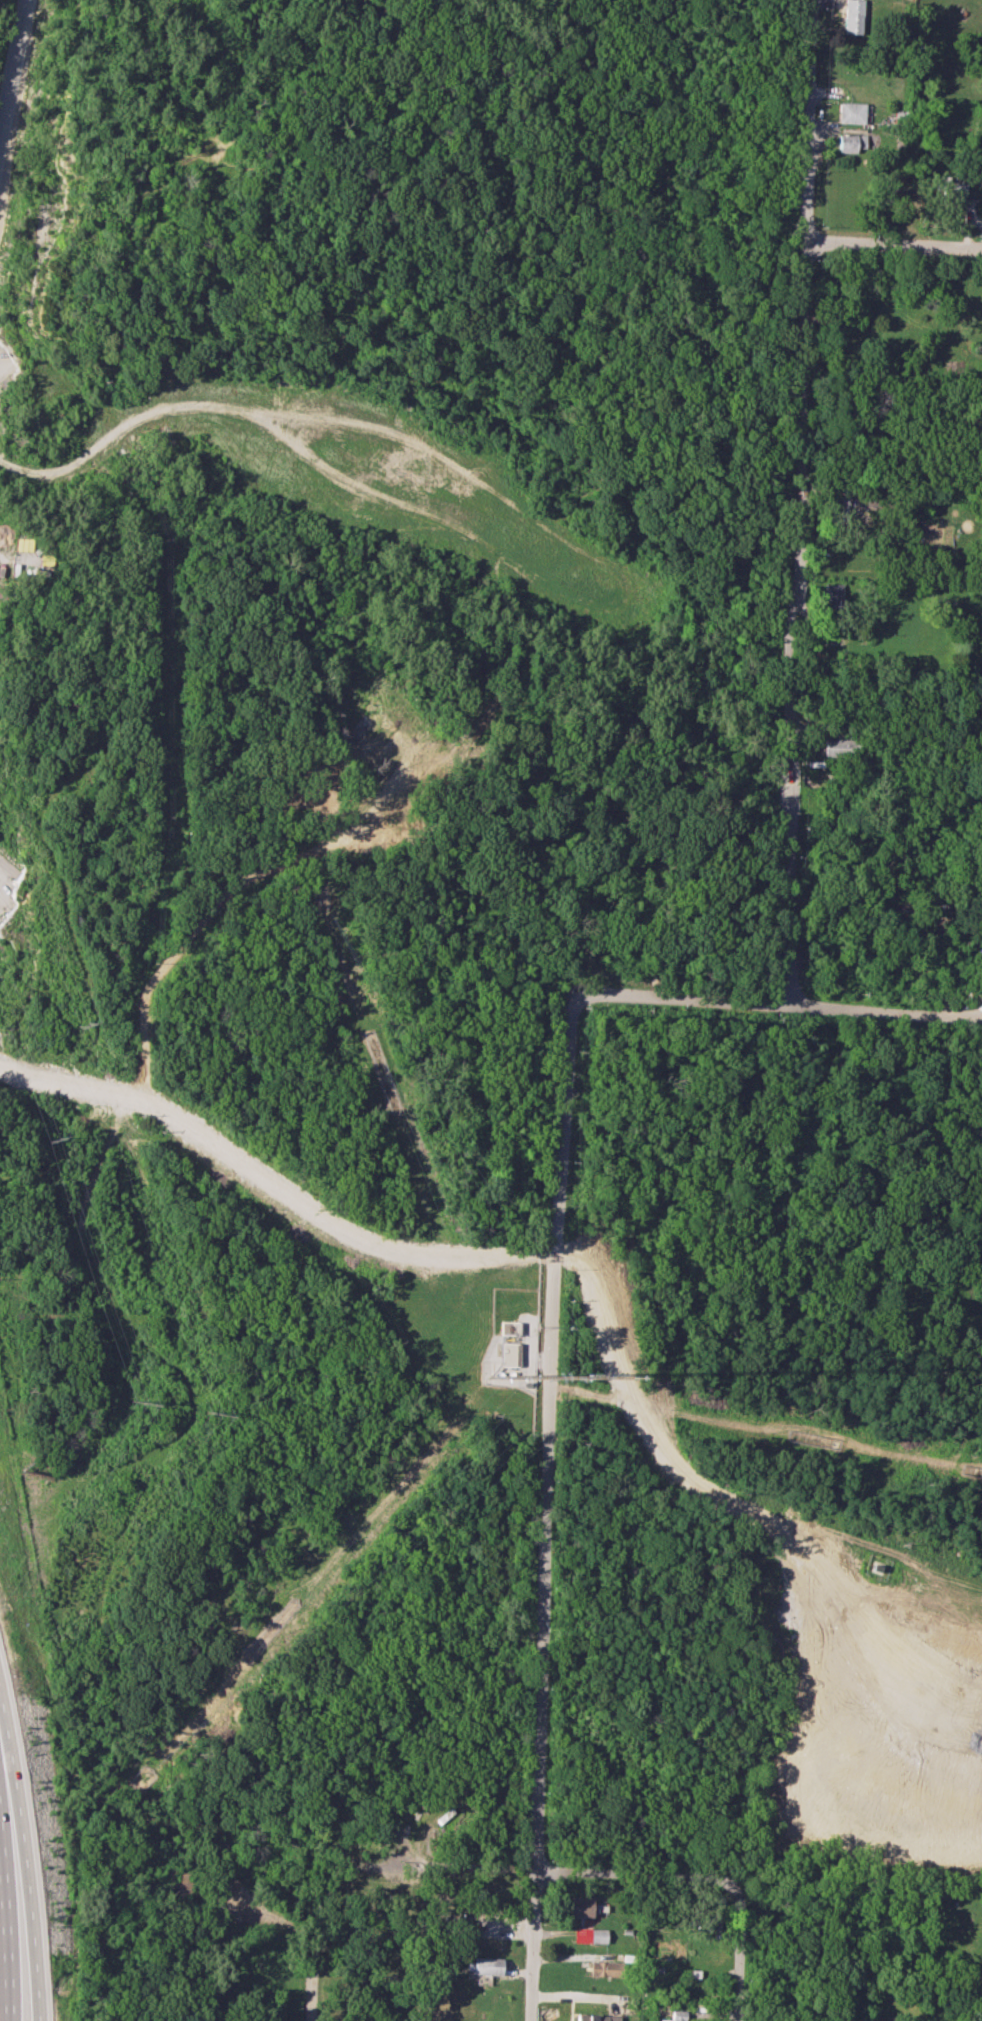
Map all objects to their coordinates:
building: (852, 16)
road: (15, 80)
building: (850, 113)
building: (850, 142)
building: (951, 190)
building: (901, 201)
road: (893, 242)
road: (144, 415)
building: (872, 498)
road: (795, 500)
building: (836, 508)
building: (831, 595)
building: (839, 748)
road: (2, 893)
road: (773, 1000)
power tower: (82, 1025)
power tower: (44, 1134)
road: (272, 1185)
building: (509, 1327)
building: (508, 1353)
power tower: (136, 1401)
power tower: (217, 1414)
road: (544, 1512)
road: (908, 1556)
road: (25, 1869)
road: (636, 1871)
building: (580, 1906)
building: (589, 1934)
road: (5, 1940)
road: (741, 1952)
road: (97, 1954)
building: (605, 1968)
road: (318, 2005)
building: (675, 2016)
building: (598, 2017)

